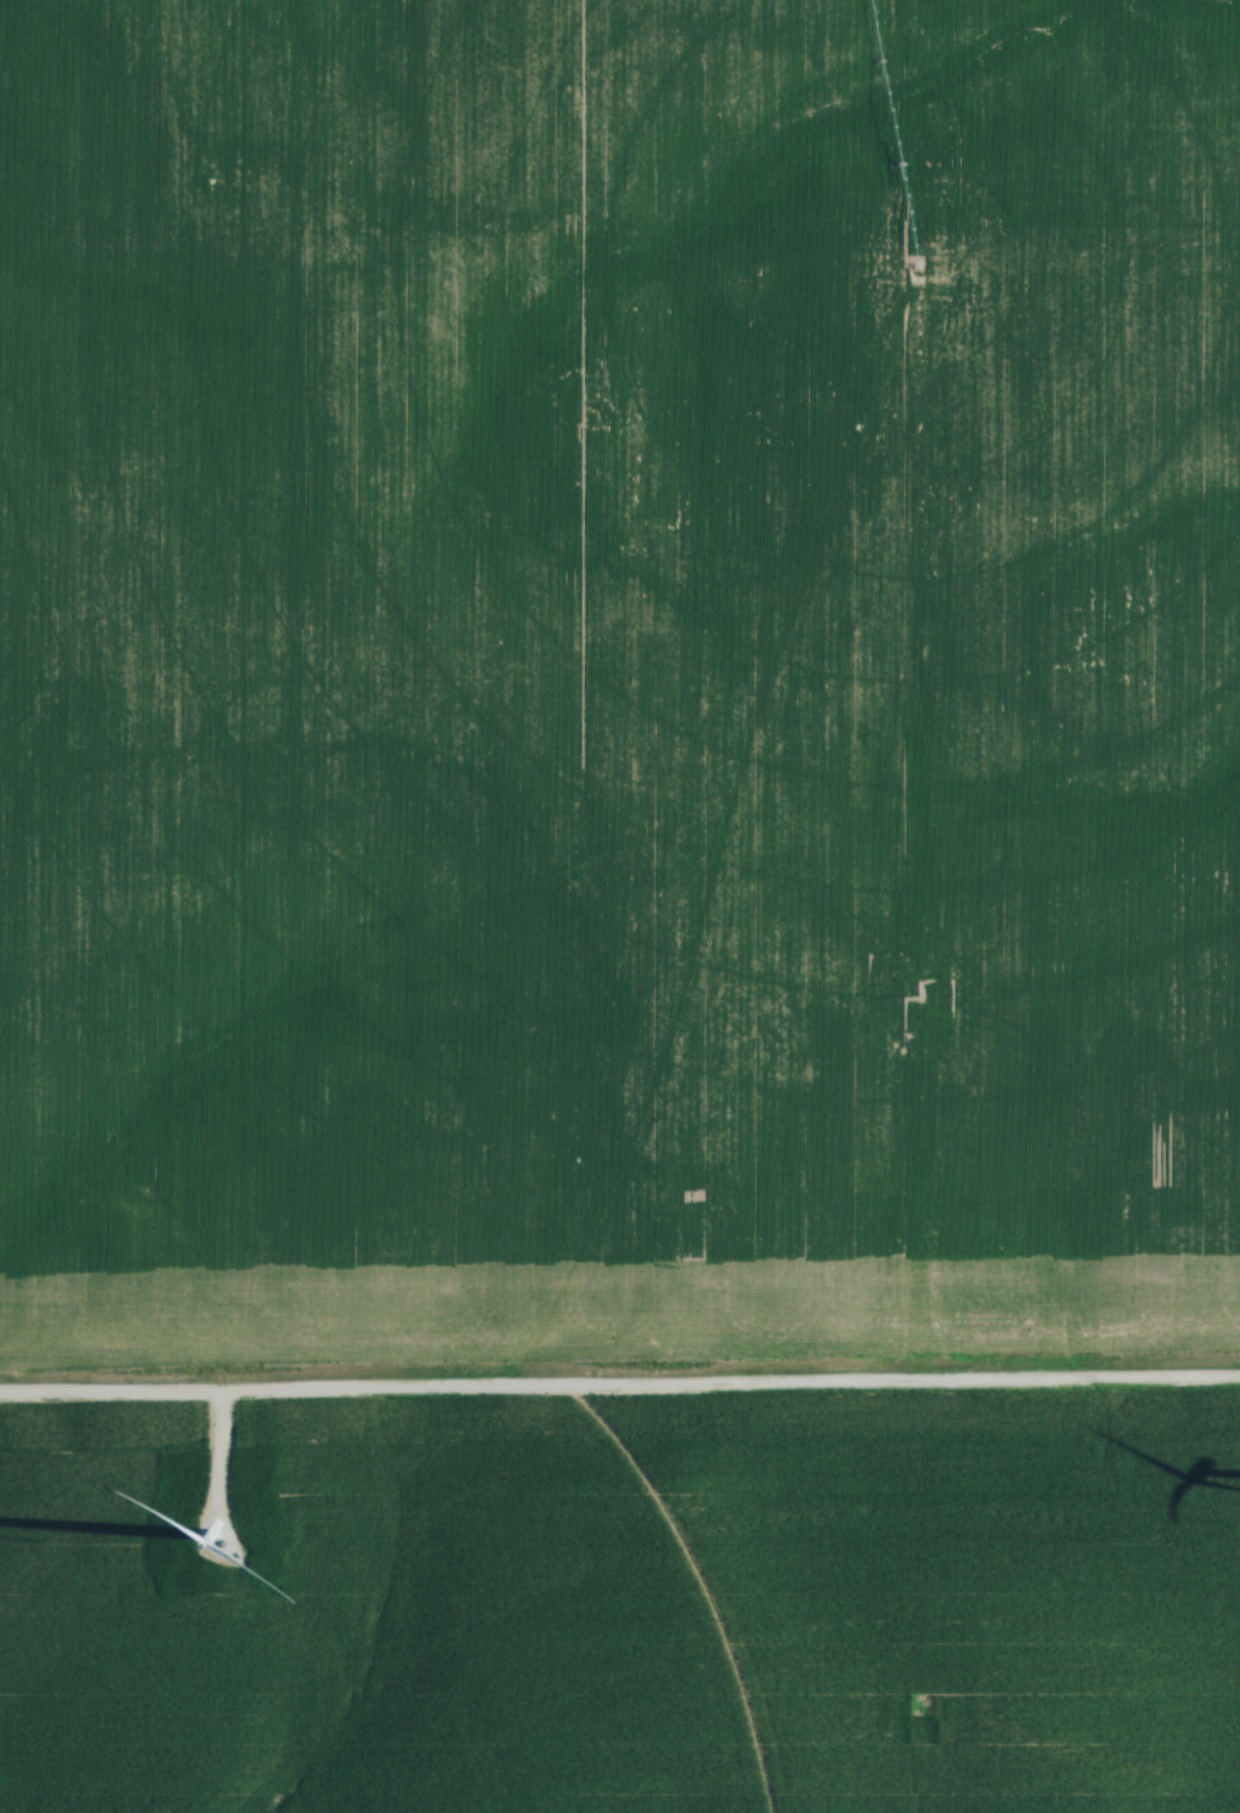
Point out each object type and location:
road: (620, 1387)
wind turbine: (212, 1533)
road: (698, 1582)

